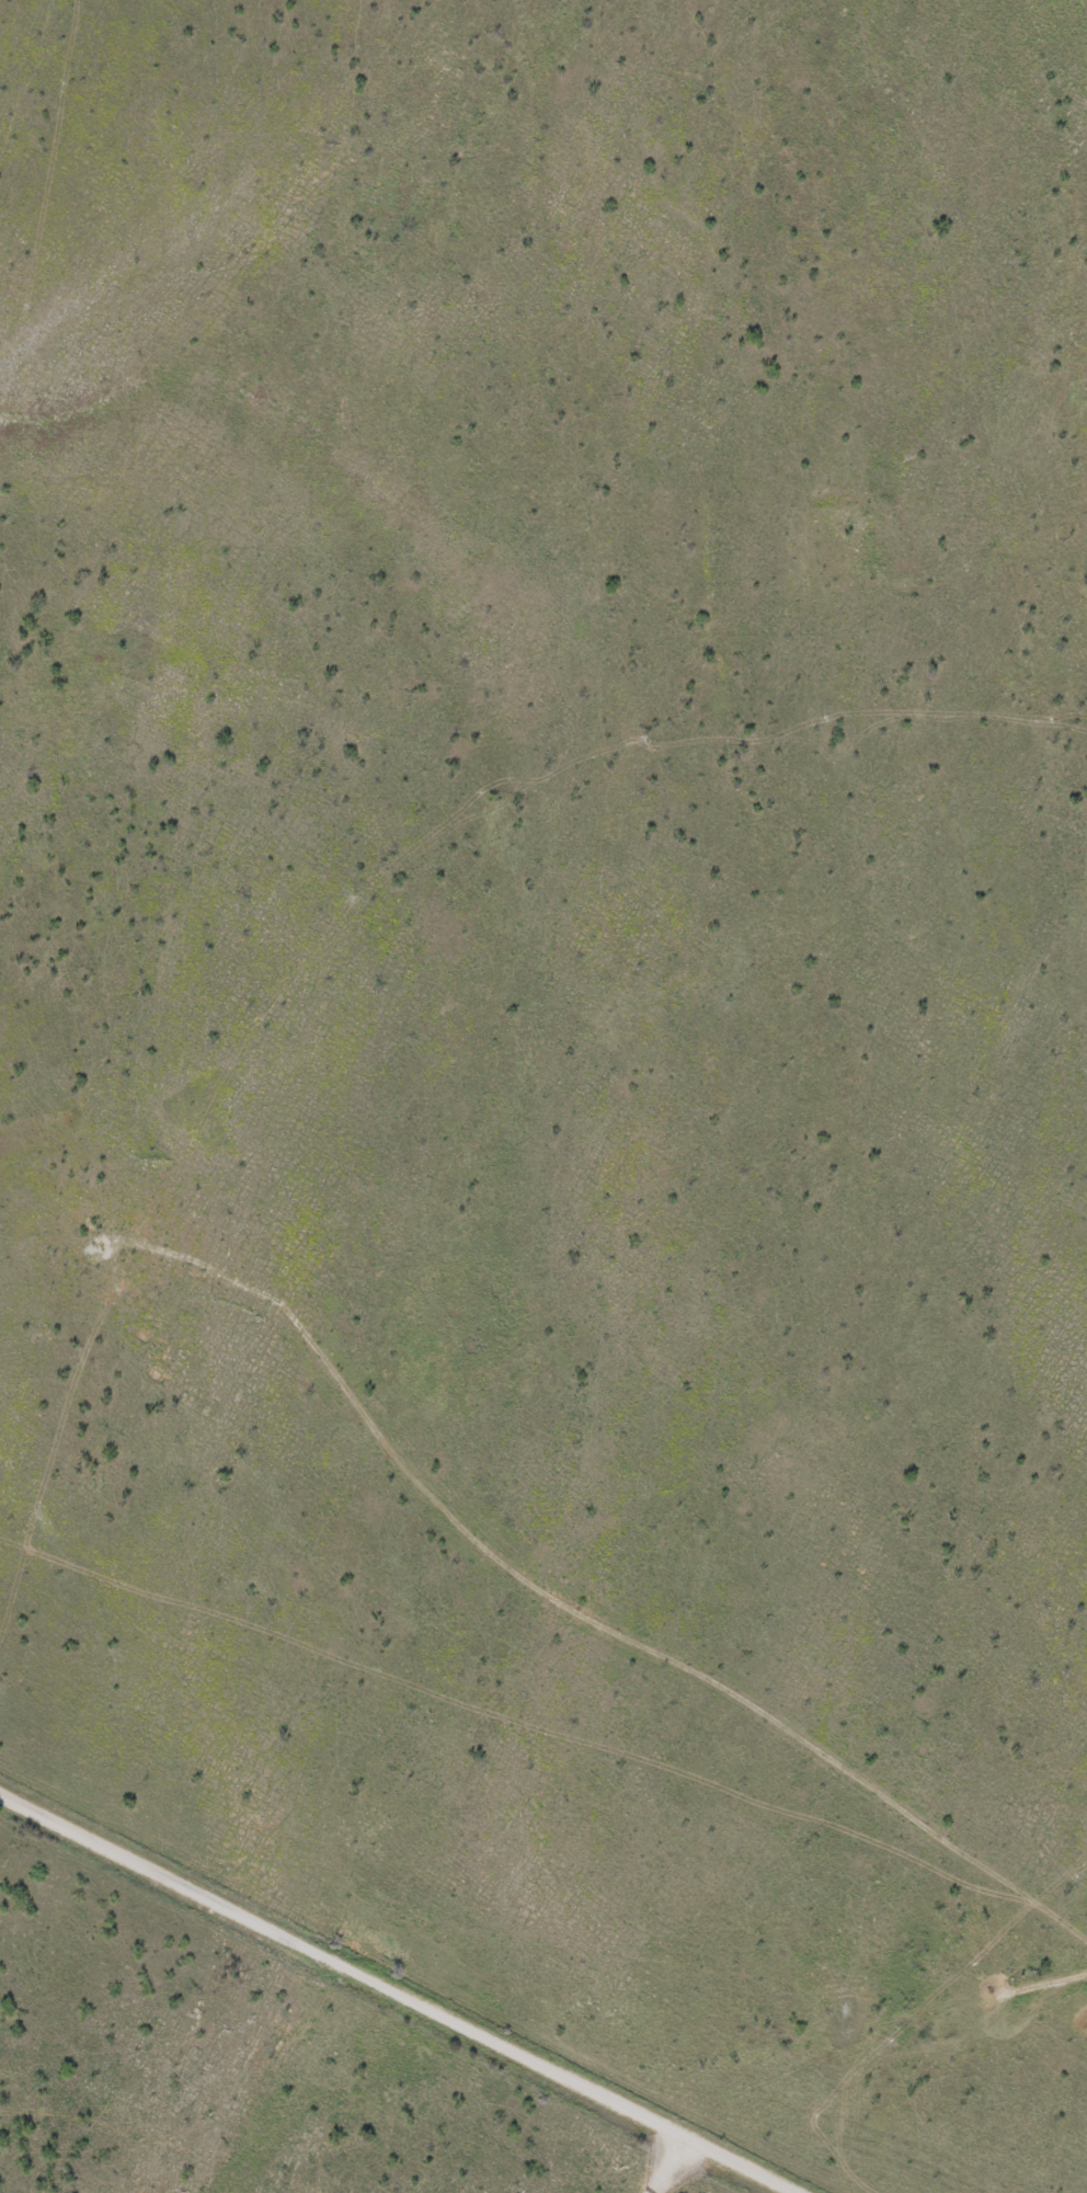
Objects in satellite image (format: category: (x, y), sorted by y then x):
road: (388, 1997)

